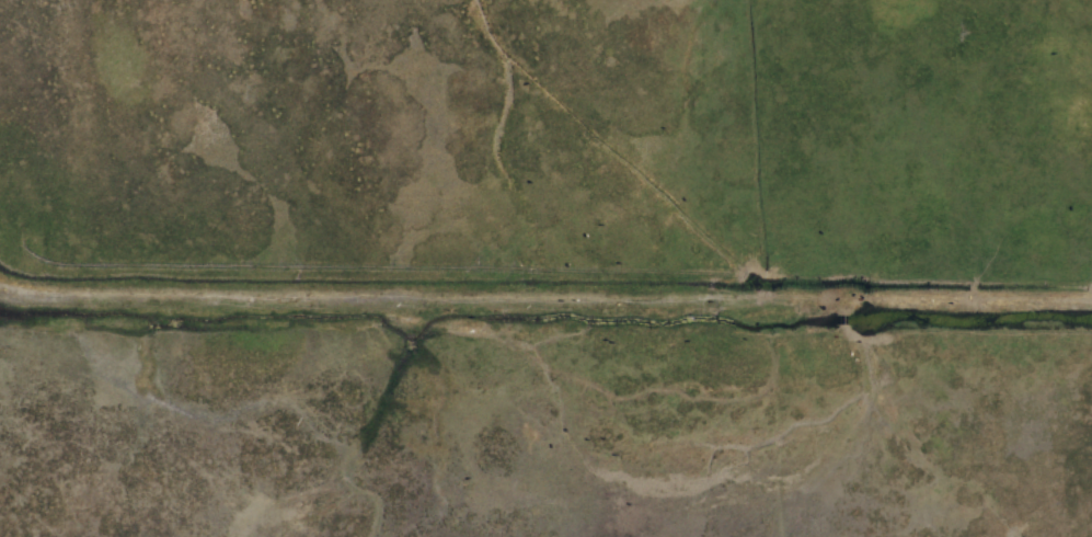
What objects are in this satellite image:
crop: (545, 268)

